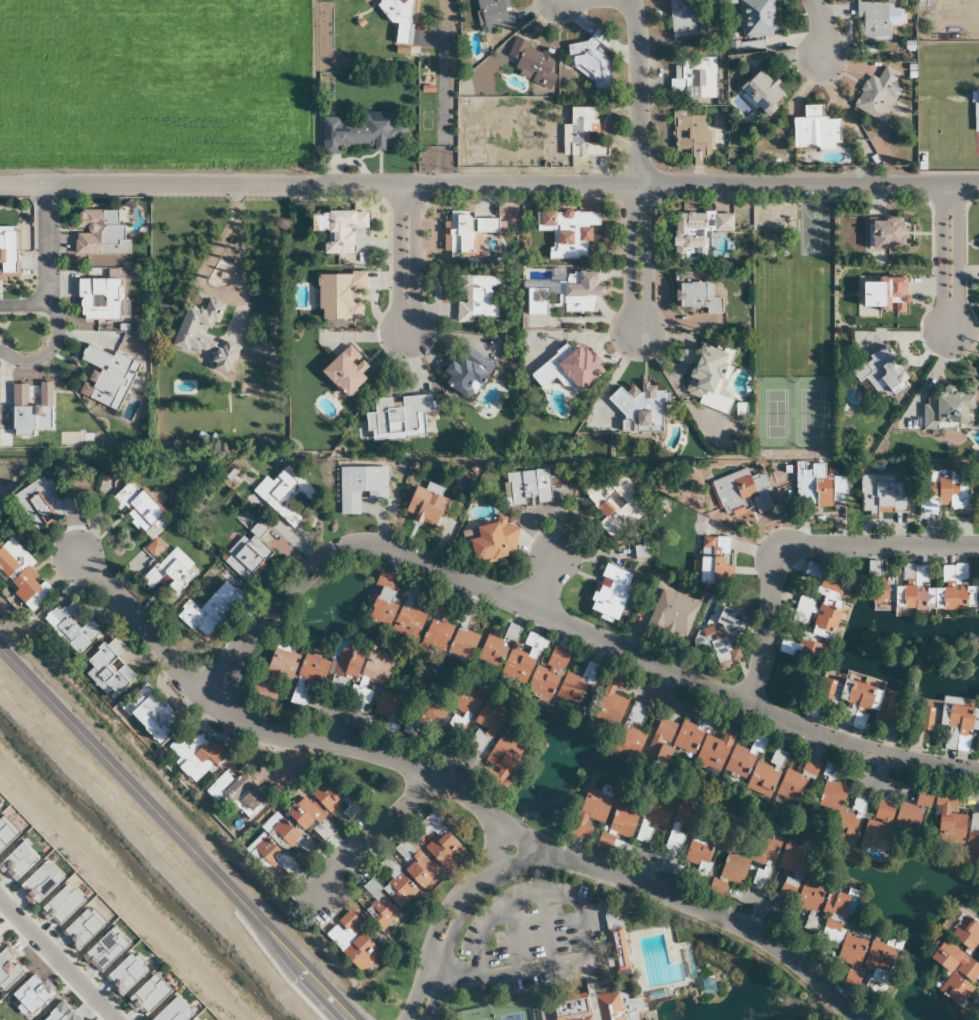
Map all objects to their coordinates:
building: (493, 15)
building: (397, 18)
building: (681, 18)
building: (755, 18)
building: (872, 21)
road: (822, 27)
building: (747, 47)
building: (589, 61)
building: (532, 63)
building: (691, 78)
road: (442, 92)
building: (761, 93)
building: (877, 95)
building: (814, 130)
building: (371, 131)
building: (581, 134)
building: (690, 135)
road: (638, 165)
road: (489, 185)
building: (337, 230)
building: (567, 233)
building: (98, 234)
building: (465, 234)
building: (695, 234)
building: (884, 235)
road: (47, 245)
road: (404, 258)
road: (948, 259)
building: (579, 292)
building: (693, 295)
building: (879, 295)
building: (340, 297)
building: (475, 298)
building: (98, 300)
road: (58, 331)
building: (201, 338)
building: (567, 367)
building: (344, 372)
building: (465, 373)
building: (880, 374)
building: (705, 377)
building: (639, 410)
building: (946, 412)
building: (402, 418)
building: (359, 486)
building: (527, 486)
building: (817, 487)
building: (741, 491)
building: (942, 491)
building: (883, 494)
building: (284, 495)
building: (46, 503)
building: (613, 503)
building: (423, 505)
building: (488, 541)
road: (799, 546)
road: (342, 548)
building: (247, 552)
building: (711, 560)
building: (169, 571)
building: (21, 573)
road: (544, 580)
building: (925, 590)
building: (609, 592)
building: (821, 602)
building: (395, 606)
building: (208, 611)
building: (672, 612)
building: (70, 626)
building: (448, 634)
building: (720, 636)
building: (787, 647)
building: (510, 652)
building: (108, 669)
building: (561, 678)
building: (336, 679)
building: (844, 701)
road: (750, 705)
building: (440, 710)
building: (150, 713)
building: (891, 719)
building: (948, 726)
building: (482, 727)
building: (655, 730)
building: (194, 755)
building: (499, 760)
building: (754, 764)
building: (796, 781)
road: (458, 793)
building: (237, 795)
building: (333, 798)
building: (841, 806)
building: (603, 817)
building: (308, 818)
building: (947, 820)
building: (663, 824)
building: (889, 824)
road: (177, 834)
road: (371, 836)
building: (972, 838)
building: (277, 841)
building: (435, 841)
road: (495, 847)
building: (700, 849)
building: (791, 859)
building: (734, 863)
building: (397, 882)
building: (787, 886)
building: (818, 906)
road: (456, 911)
building: (965, 933)
building: (351, 941)
building: (616, 950)
building: (868, 959)
road: (57, 960)
road: (456, 972)
building: (953, 972)
building: (706, 985)
building: (587, 1007)
park: (511, 1010)
park: (474, 1013)

